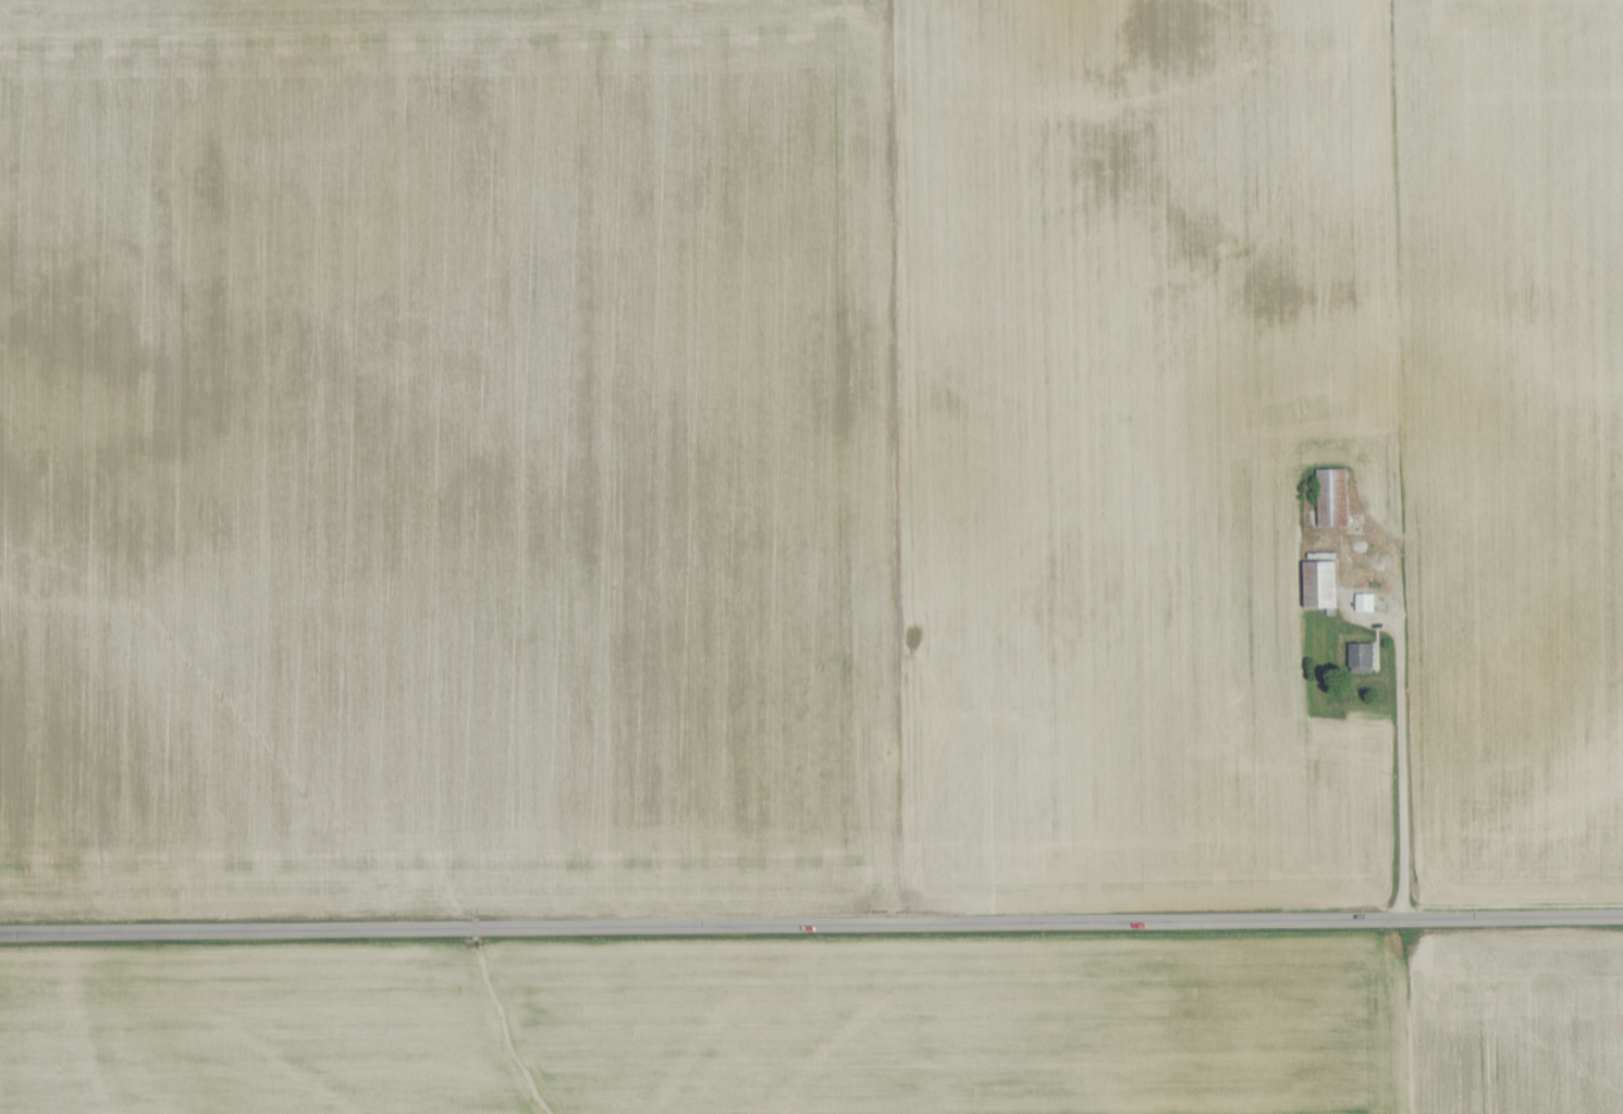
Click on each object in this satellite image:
building: (1337, 494)
building: (1327, 581)
building: (1369, 599)
building: (1365, 653)
road: (1401, 714)
road: (811, 928)

